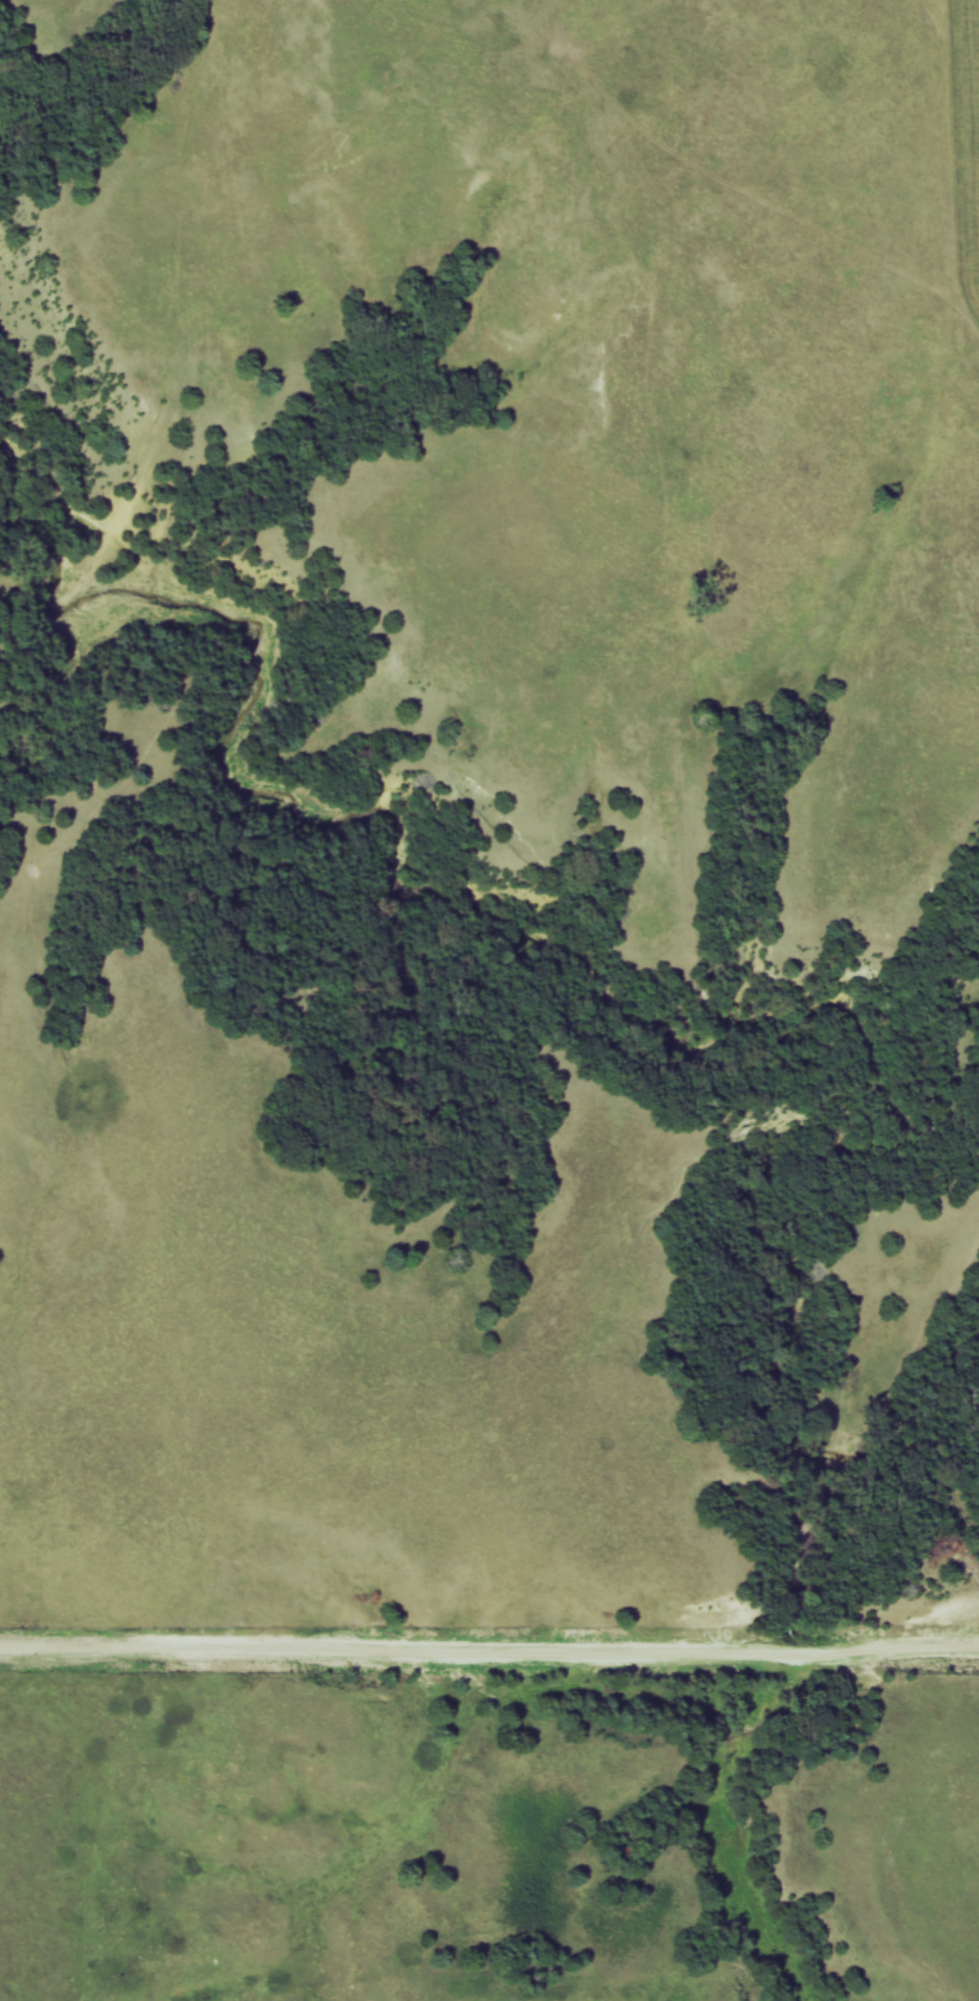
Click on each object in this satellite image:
road: (489, 1658)

